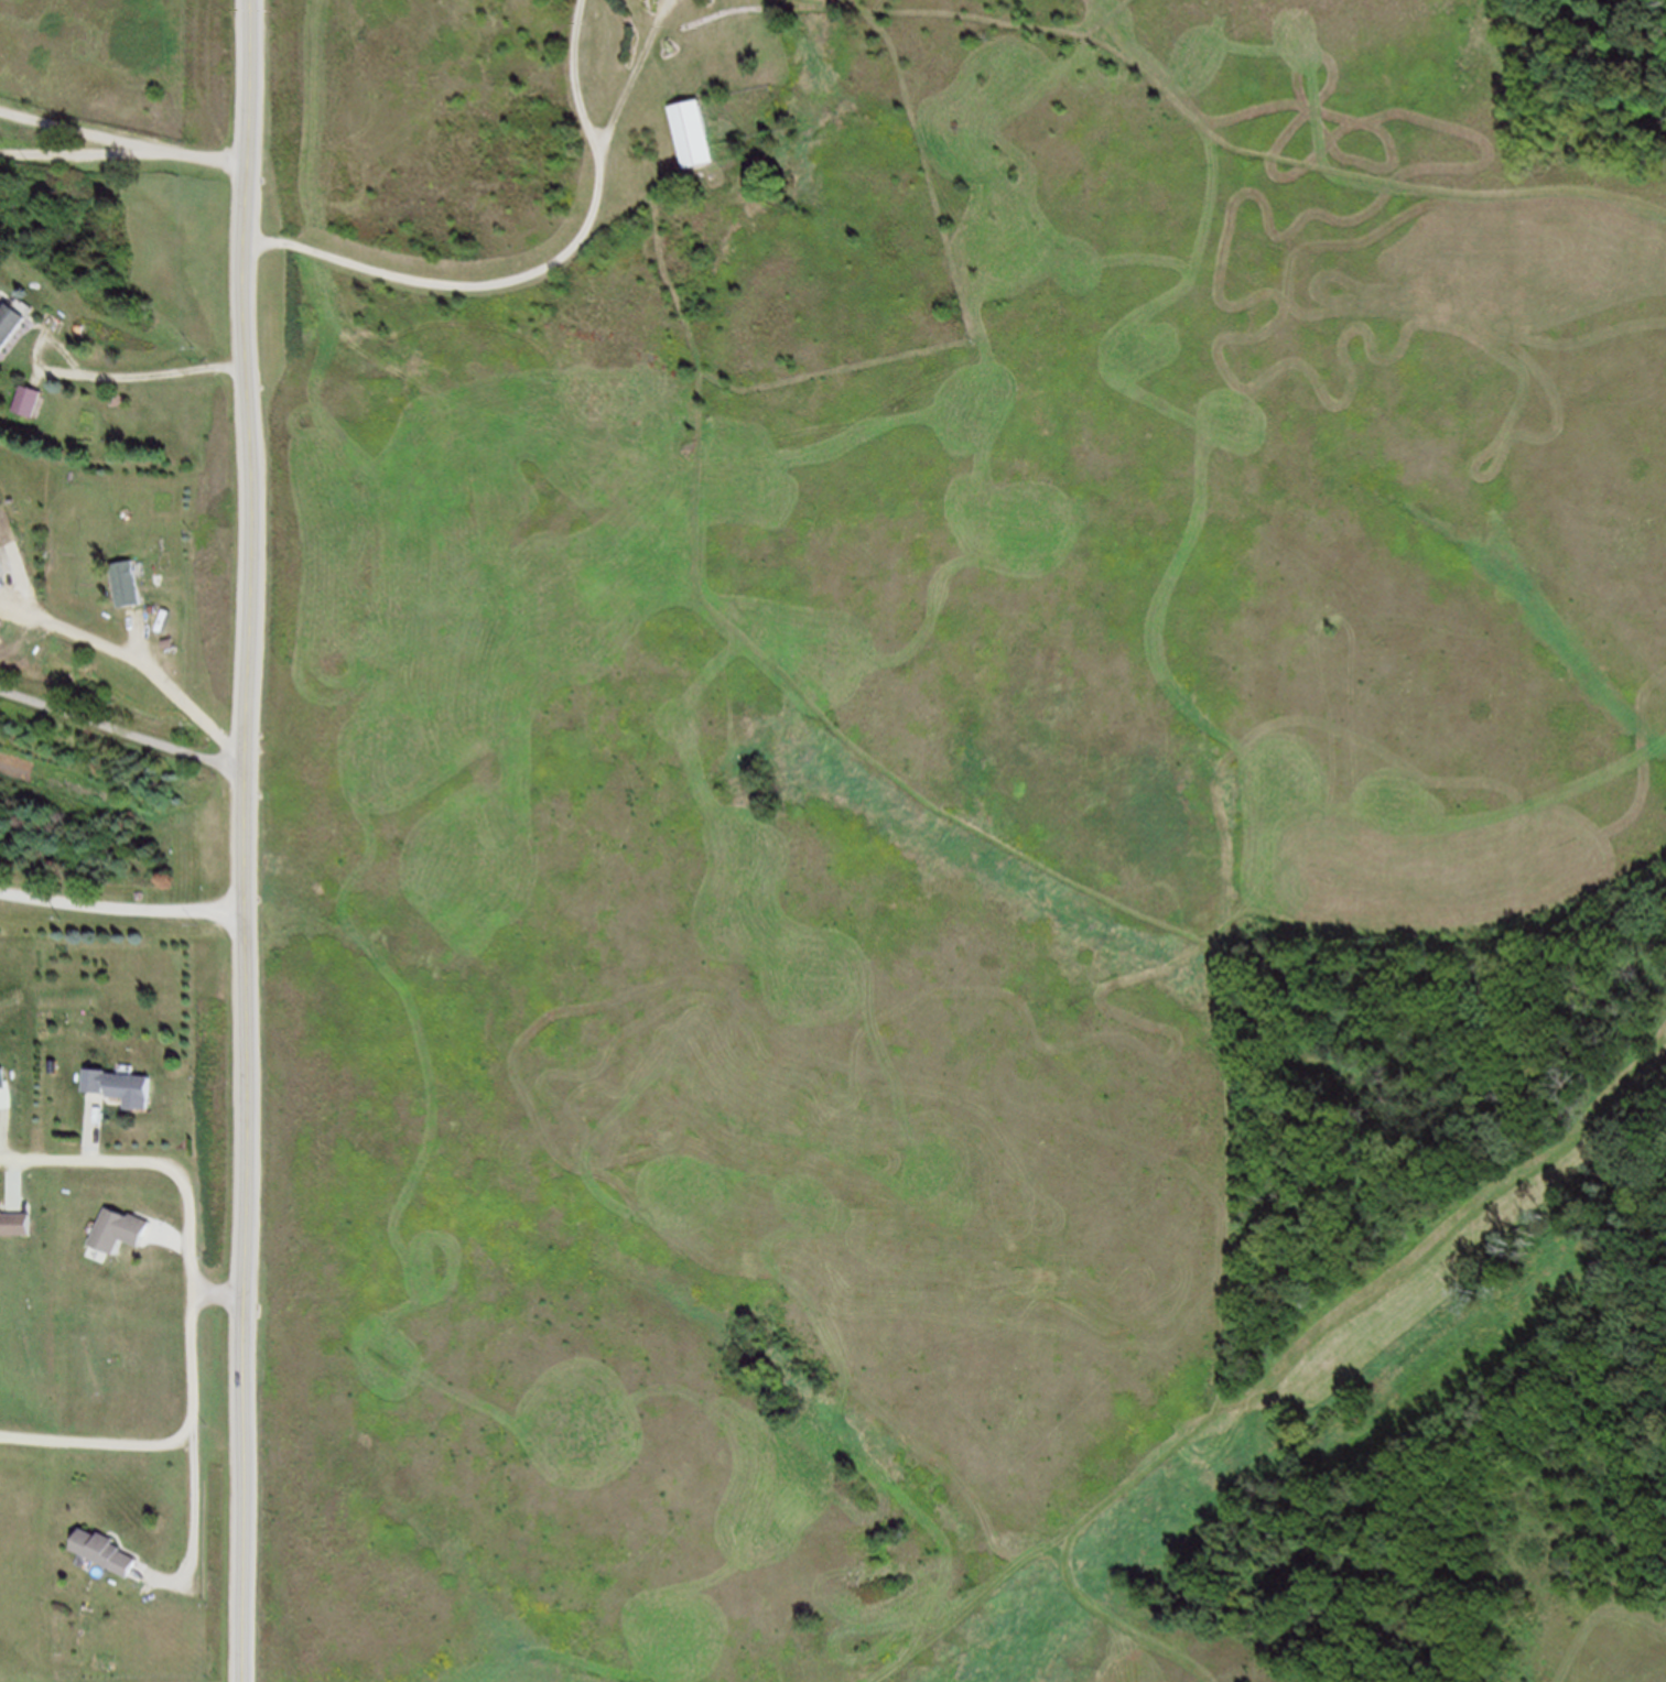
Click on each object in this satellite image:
building: (695, 140)
road: (1215, 140)
road: (125, 142)
road: (93, 159)
road: (551, 269)
building: (10, 328)
road: (150, 380)
building: (30, 405)
building: (0, 497)
building: (20, 553)
building: (2, 566)
building: (131, 590)
road: (144, 644)
road: (141, 664)
road: (126, 734)
road: (935, 801)
road: (251, 840)
road: (125, 909)
road: (1431, 936)
building: (127, 1087)
building: (116, 1110)
road: (126, 1152)
road: (37, 1178)
road: (185, 1185)
building: (20, 1207)
building: (20, 1224)
building: (128, 1229)
building: (141, 1256)
road: (186, 1271)
road: (1285, 1366)
road: (169, 1448)
road: (186, 1537)
building: (107, 1550)
building: (132, 1587)

